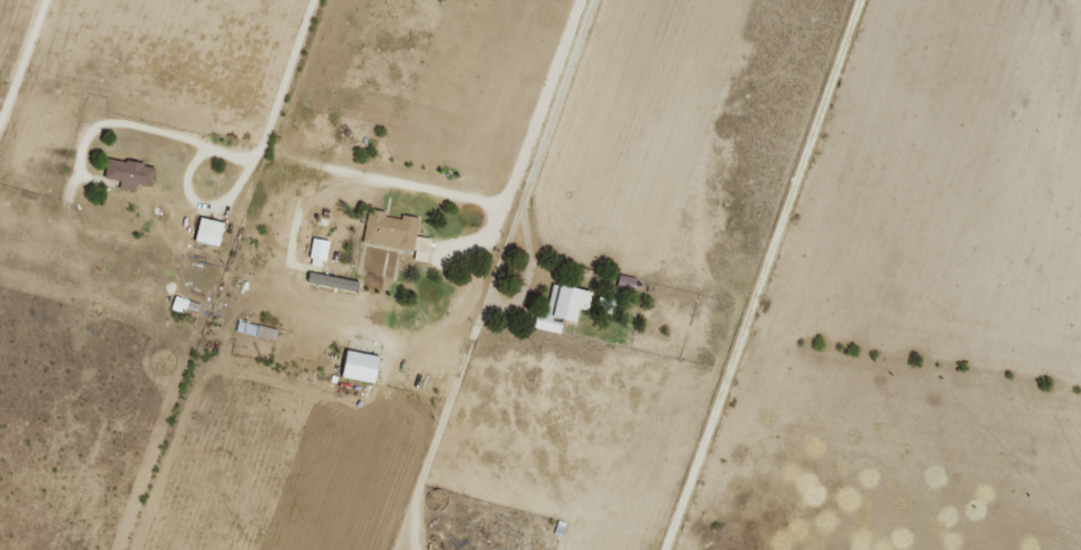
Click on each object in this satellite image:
road: (24, 61)
building: (128, 173)
building: (207, 231)
building: (396, 233)
building: (317, 252)
building: (332, 281)
building: (625, 281)
building: (568, 302)
building: (184, 305)
building: (547, 323)
building: (245, 327)
building: (265, 332)
building: (358, 366)

